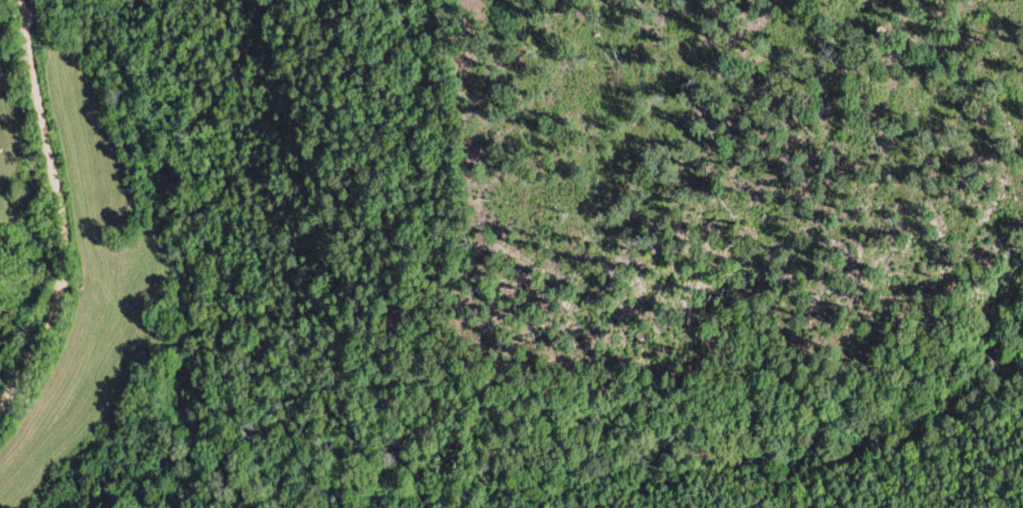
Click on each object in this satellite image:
road: (45, 201)

